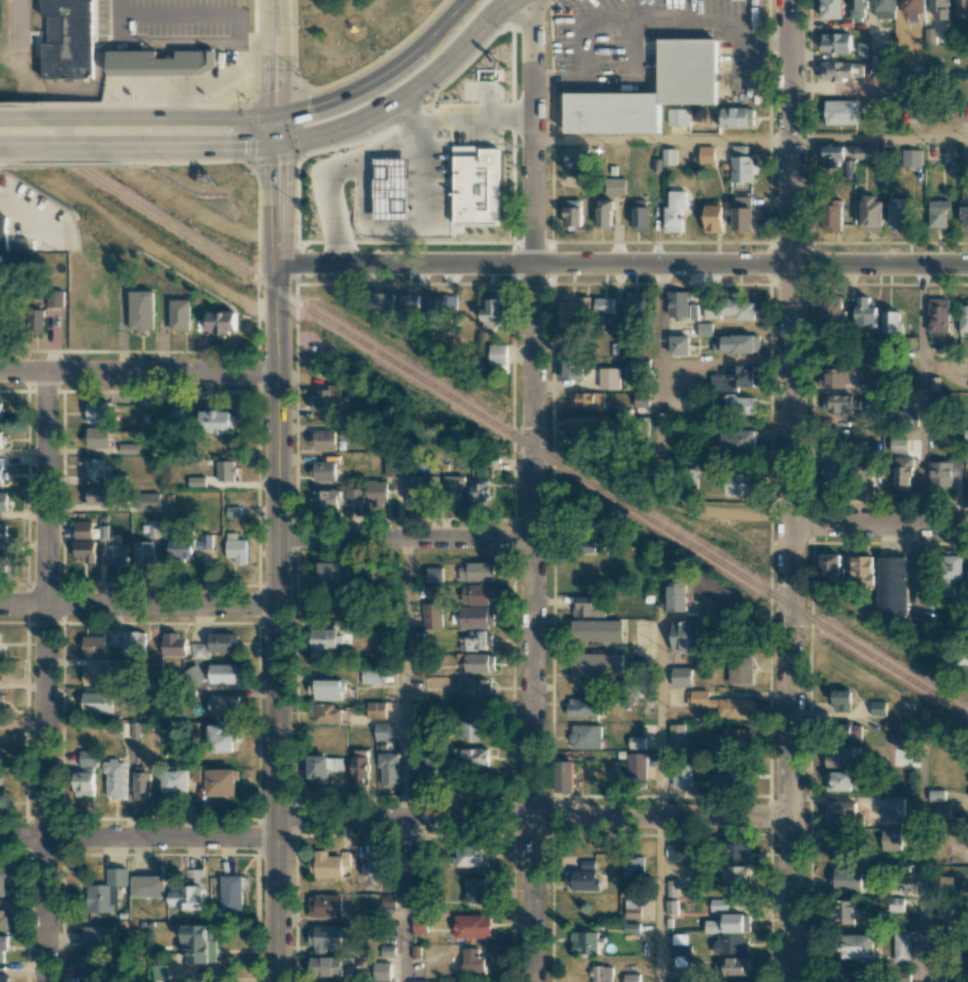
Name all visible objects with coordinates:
building: (914, 8)
building: (941, 8)
building: (962, 8)
building: (832, 9)
building: (857, 9)
building: (885, 9)
road: (633, 18)
road: (585, 23)
road: (19, 36)
building: (68, 38)
road: (123, 40)
building: (836, 42)
building: (161, 63)
building: (688, 65)
building: (841, 70)
road: (379, 74)
building: (895, 87)
road: (404, 91)
road: (194, 92)
road: (175, 104)
building: (914, 109)
building: (841, 112)
traffic signals: (275, 114)
road: (175, 116)
building: (735, 116)
building: (678, 117)
road: (38, 118)
road: (661, 138)
road: (879, 138)
traffic signals: (275, 142)
road: (200, 145)
road: (62, 146)
parking lot: (407, 151)
building: (866, 153)
building: (706, 154)
building: (669, 156)
building: (576, 157)
building: (833, 157)
building: (910, 158)
building: (743, 165)
building: (418, 173)
building: (473, 178)
building: (615, 186)
building: (387, 190)
building: (378, 195)
building: (964, 205)
road: (32, 210)
building: (573, 212)
building: (871, 213)
building: (938, 213)
building: (604, 214)
building: (744, 214)
building: (900, 215)
building: (833, 217)
building: (640, 218)
building: (713, 218)
building: (673, 219)
building: (3, 232)
road: (622, 265)
building: (55, 299)
building: (410, 302)
building: (384, 304)
building: (678, 304)
building: (442, 305)
building: (604, 305)
building: (494, 309)
building: (729, 309)
building: (141, 310)
building: (573, 311)
building: (693, 311)
building: (865, 312)
building: (180, 314)
building: (938, 315)
building: (831, 317)
building: (963, 317)
building: (222, 321)
building: (891, 321)
building: (738, 344)
building: (679, 345)
building: (497, 354)
building: (568, 355)
building: (640, 365)
road: (138, 372)
building: (834, 377)
building: (609, 378)
building: (735, 378)
building: (874, 382)
road: (921, 393)
building: (329, 399)
building: (587, 399)
building: (641, 399)
building: (841, 403)
building: (738, 405)
building: (0, 410)
building: (97, 412)
building: (175, 415)
railway: (483, 418)
building: (215, 421)
building: (584, 424)
building: (97, 437)
building: (2, 439)
building: (323, 439)
building: (738, 440)
road: (660, 444)
building: (898, 444)
building: (128, 448)
building: (94, 467)
building: (393, 467)
building: (0, 469)
building: (225, 470)
building: (323, 471)
building: (865, 472)
building: (833, 473)
building: (903, 473)
building: (943, 474)
building: (433, 482)
building: (741, 484)
building: (453, 485)
building: (410, 487)
road: (276, 490)
building: (478, 490)
road: (530, 490)
road: (787, 491)
building: (377, 494)
building: (97, 495)
building: (355, 495)
building: (326, 499)
building: (3, 501)
building: (148, 502)
road: (877, 520)
building: (154, 528)
building: (83, 529)
building: (3, 532)
road: (403, 538)
building: (593, 543)
building: (187, 545)
building: (85, 550)
building: (235, 551)
building: (143, 553)
building: (115, 554)
building: (3, 563)
building: (830, 565)
building: (922, 566)
building: (862, 569)
building: (331, 572)
building: (476, 572)
building: (952, 573)
building: (435, 574)
building: (355, 576)
building: (891, 587)
building: (433, 591)
building: (718, 593)
building: (475, 594)
building: (676, 596)
road: (137, 604)
building: (588, 606)
building: (432, 615)
building: (476, 617)
building: (597, 630)
building: (686, 635)
building: (323, 640)
building: (478, 640)
building: (101, 642)
building: (223, 642)
building: (134, 643)
building: (174, 644)
building: (199, 651)
building: (118, 663)
building: (478, 663)
building: (597, 663)
building: (740, 670)
building: (223, 673)
building: (97, 674)
building: (373, 675)
building: (681, 676)
road: (45, 677)
road: (403, 677)
building: (475, 686)
building: (327, 689)
building: (0, 700)
building: (841, 700)
building: (98, 702)
building: (223, 704)
building: (720, 704)
building: (584, 707)
building: (878, 708)
building: (376, 710)
building: (477, 710)
building: (327, 713)
road: (660, 713)
building: (131, 729)
building: (470, 730)
building: (383, 731)
building: (676, 731)
building: (851, 732)
building: (584, 736)
building: (219, 739)
building: (733, 739)
building: (636, 742)
building: (471, 757)
building: (839, 757)
building: (88, 758)
building: (359, 766)
building: (427, 766)
building: (636, 766)
building: (322, 768)
building: (388, 769)
building: (563, 776)
building: (682, 776)
building: (115, 778)
building: (732, 778)
building: (175, 781)
building: (217, 781)
building: (843, 781)
building: (84, 783)
building: (142, 783)
building: (2, 788)
building: (936, 795)
building: (893, 806)
building: (942, 810)
building: (841, 813)
road: (391, 816)
building: (891, 839)
building: (842, 848)
building: (737, 849)
road: (922, 849)
building: (680, 852)
building: (470, 855)
building: (375, 863)
building: (328, 864)
building: (587, 864)
building: (633, 866)
building: (736, 875)
building: (846, 879)
building: (584, 880)
building: (2, 881)
building: (943, 883)
building: (148, 886)
building: (671, 888)
building: (474, 889)
building: (106, 892)
building: (231, 893)
building: (188, 898)
road: (403, 899)
road: (660, 899)
building: (896, 904)
building: (327, 905)
building: (718, 905)
building: (632, 908)
building: (846, 911)
building: (3, 919)
building: (419, 923)
building: (728, 924)
building: (471, 926)
building: (99, 937)
building: (325, 938)
building: (583, 942)
building: (199, 944)
building: (680, 944)
building: (858, 945)
building: (3, 946)
building: (901, 946)
building: (472, 959)
building: (86, 965)
building: (326, 966)
building: (680, 966)
building: (736, 966)
building: (382, 971)
building: (159, 972)
building: (600, 973)
building: (631, 977)
building: (847, 977)
building: (4, 978)
building: (937, 980)
building: (379, 981)
building: (420, 981)
building: (680, 981)

